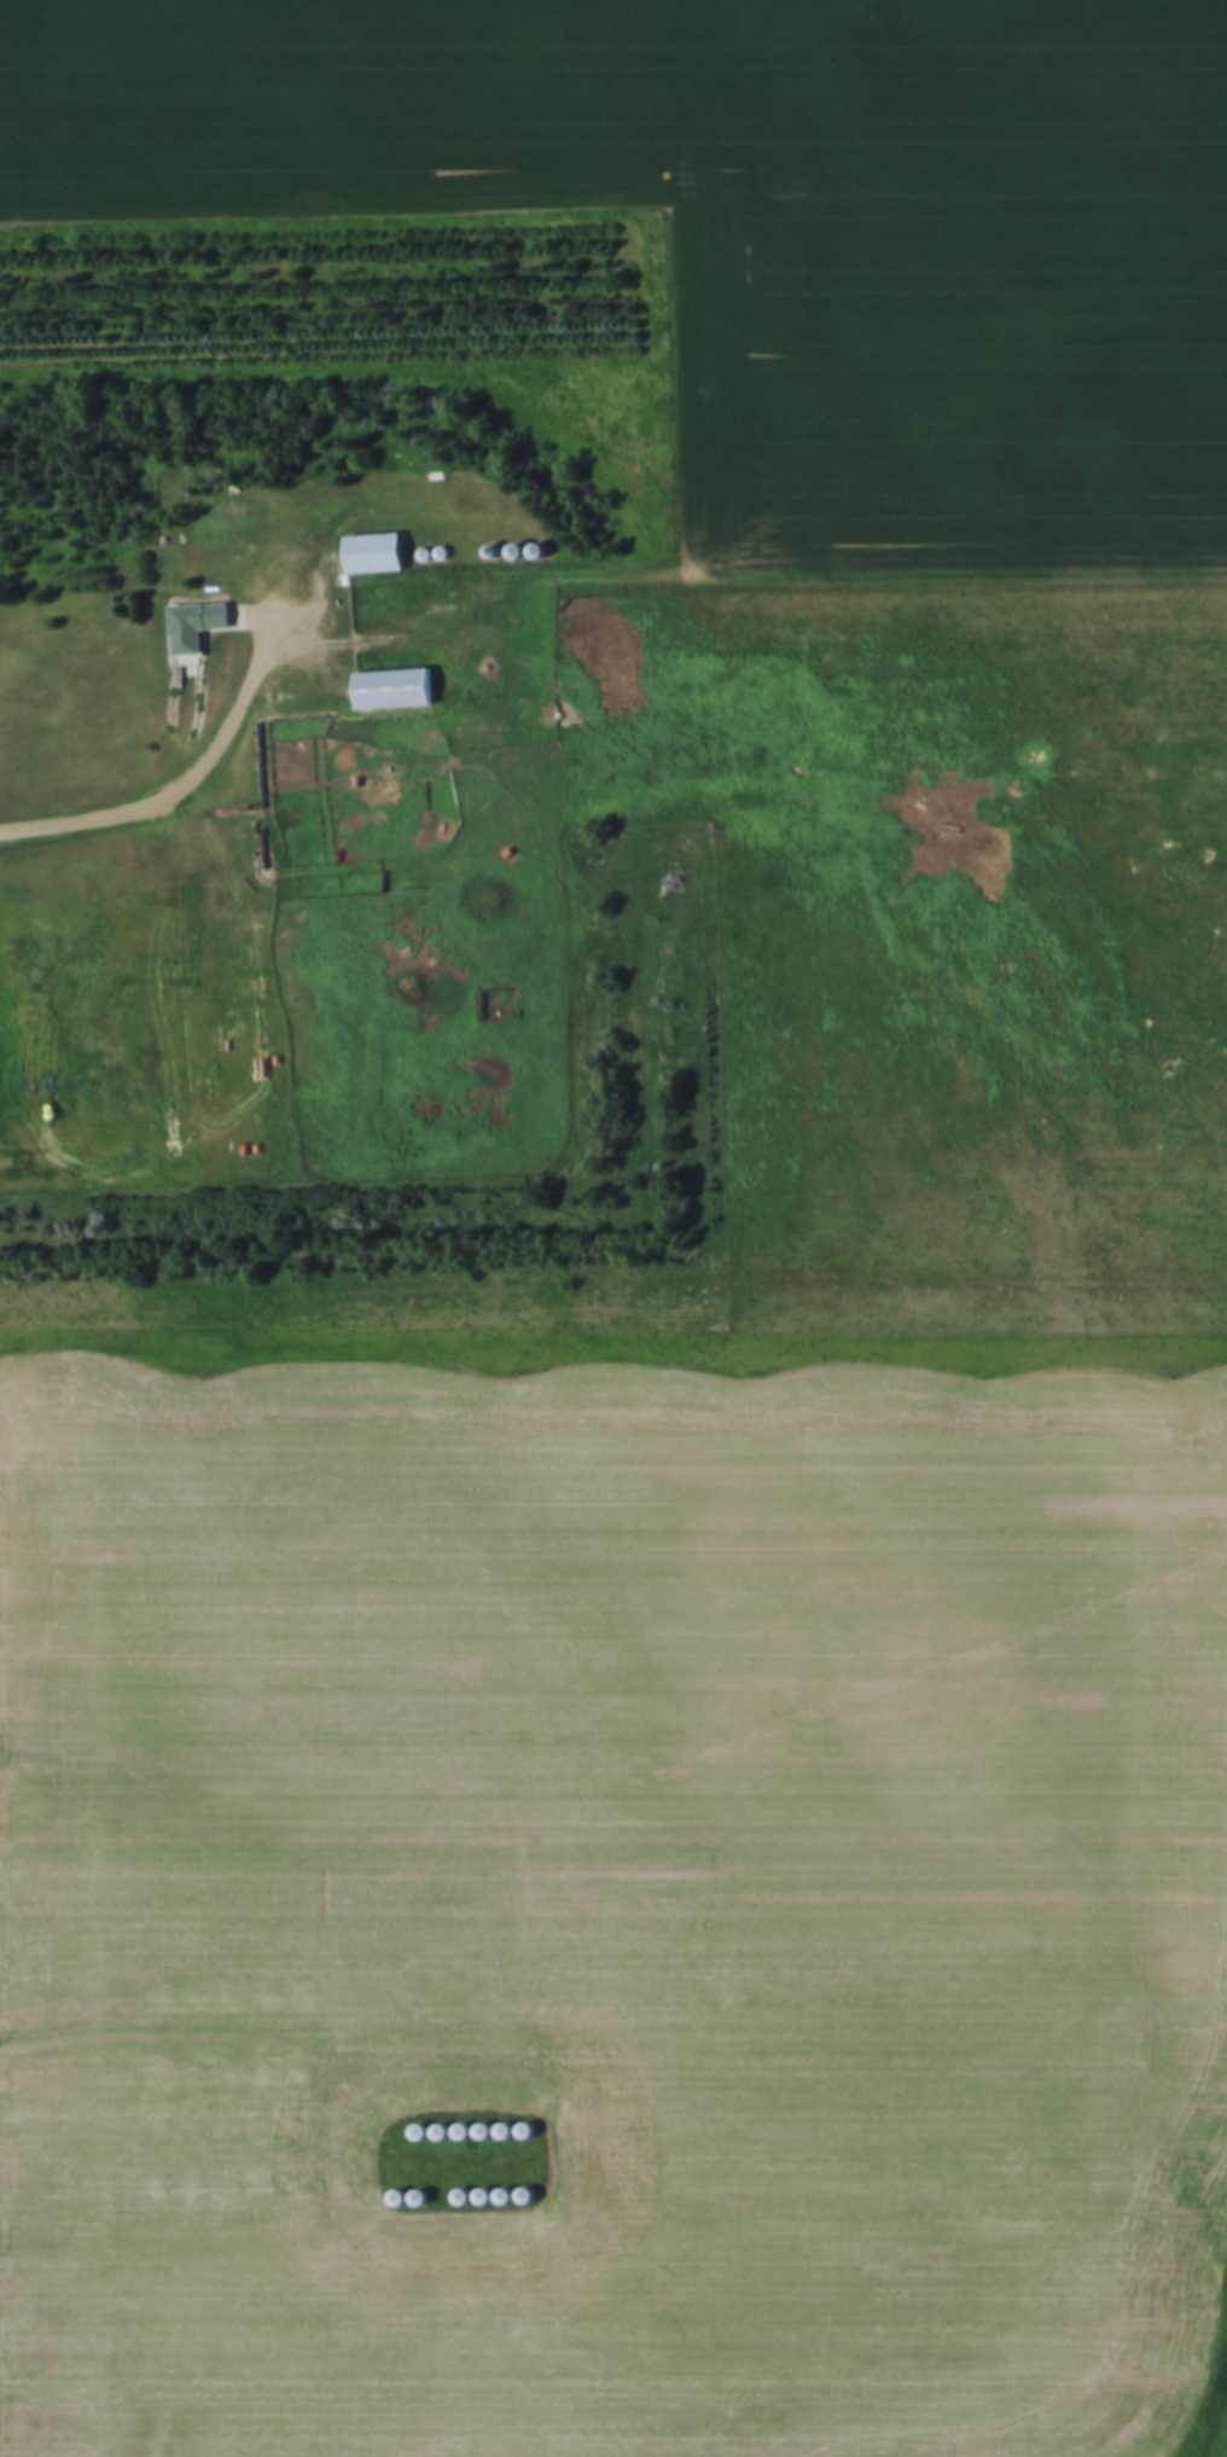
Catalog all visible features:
building: (219, 535)
building: (374, 554)
building: (460, 585)
silo: (460, 585)
building: (487, 585)
silo: (487, 585)
building: (507, 585)
silo: (507, 585)
building: (337, 587)
building: (406, 587)
silo: (406, 587)
building: (389, 588)
silo: (389, 588)
building: (194, 626)
building: (161, 658)
building: (394, 690)
building: (356, 722)
road: (194, 776)
road: (260, 2089)
building: (429, 2165)
silo: (429, 2165)
building: (449, 2165)
silo: (449, 2165)
building: (471, 2165)
silo: (471, 2165)
building: (493, 2165)
silo: (493, 2165)
building: (385, 2166)
silo: (385, 2166)
building: (406, 2166)
silo: (406, 2166)
building: (429, 2230)
silo: (429, 2230)
building: (450, 2230)
silo: (450, 2230)
building: (471, 2230)
silo: (471, 2230)
building: (493, 2230)
silo: (493, 2230)
building: (385, 2231)
silo: (385, 2231)
building: (365, 2232)
silo: (365, 2232)

